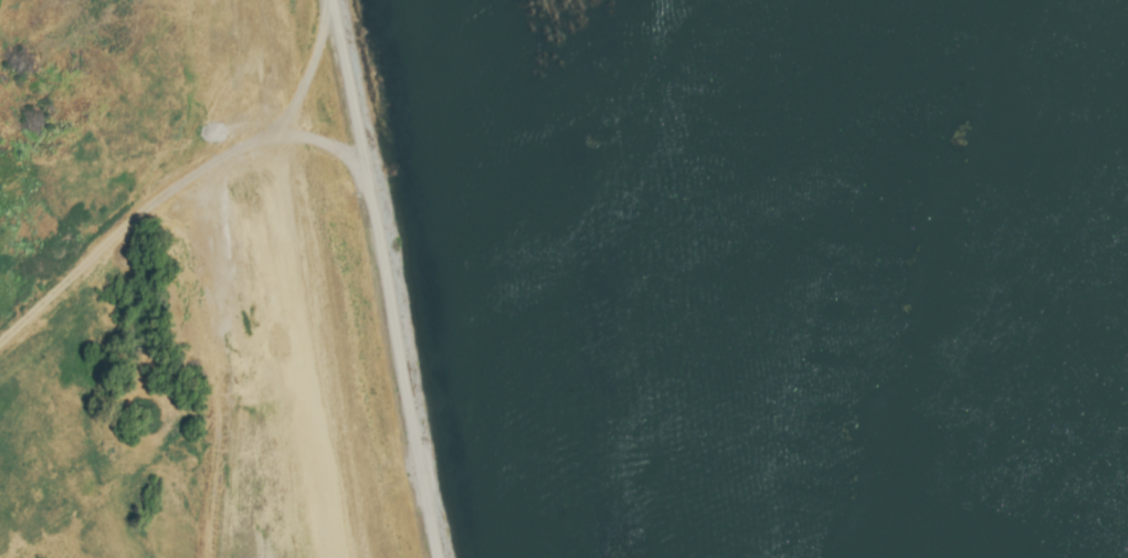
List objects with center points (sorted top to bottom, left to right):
crop: (610, 193)
road: (387, 277)
crop: (199, 292)

